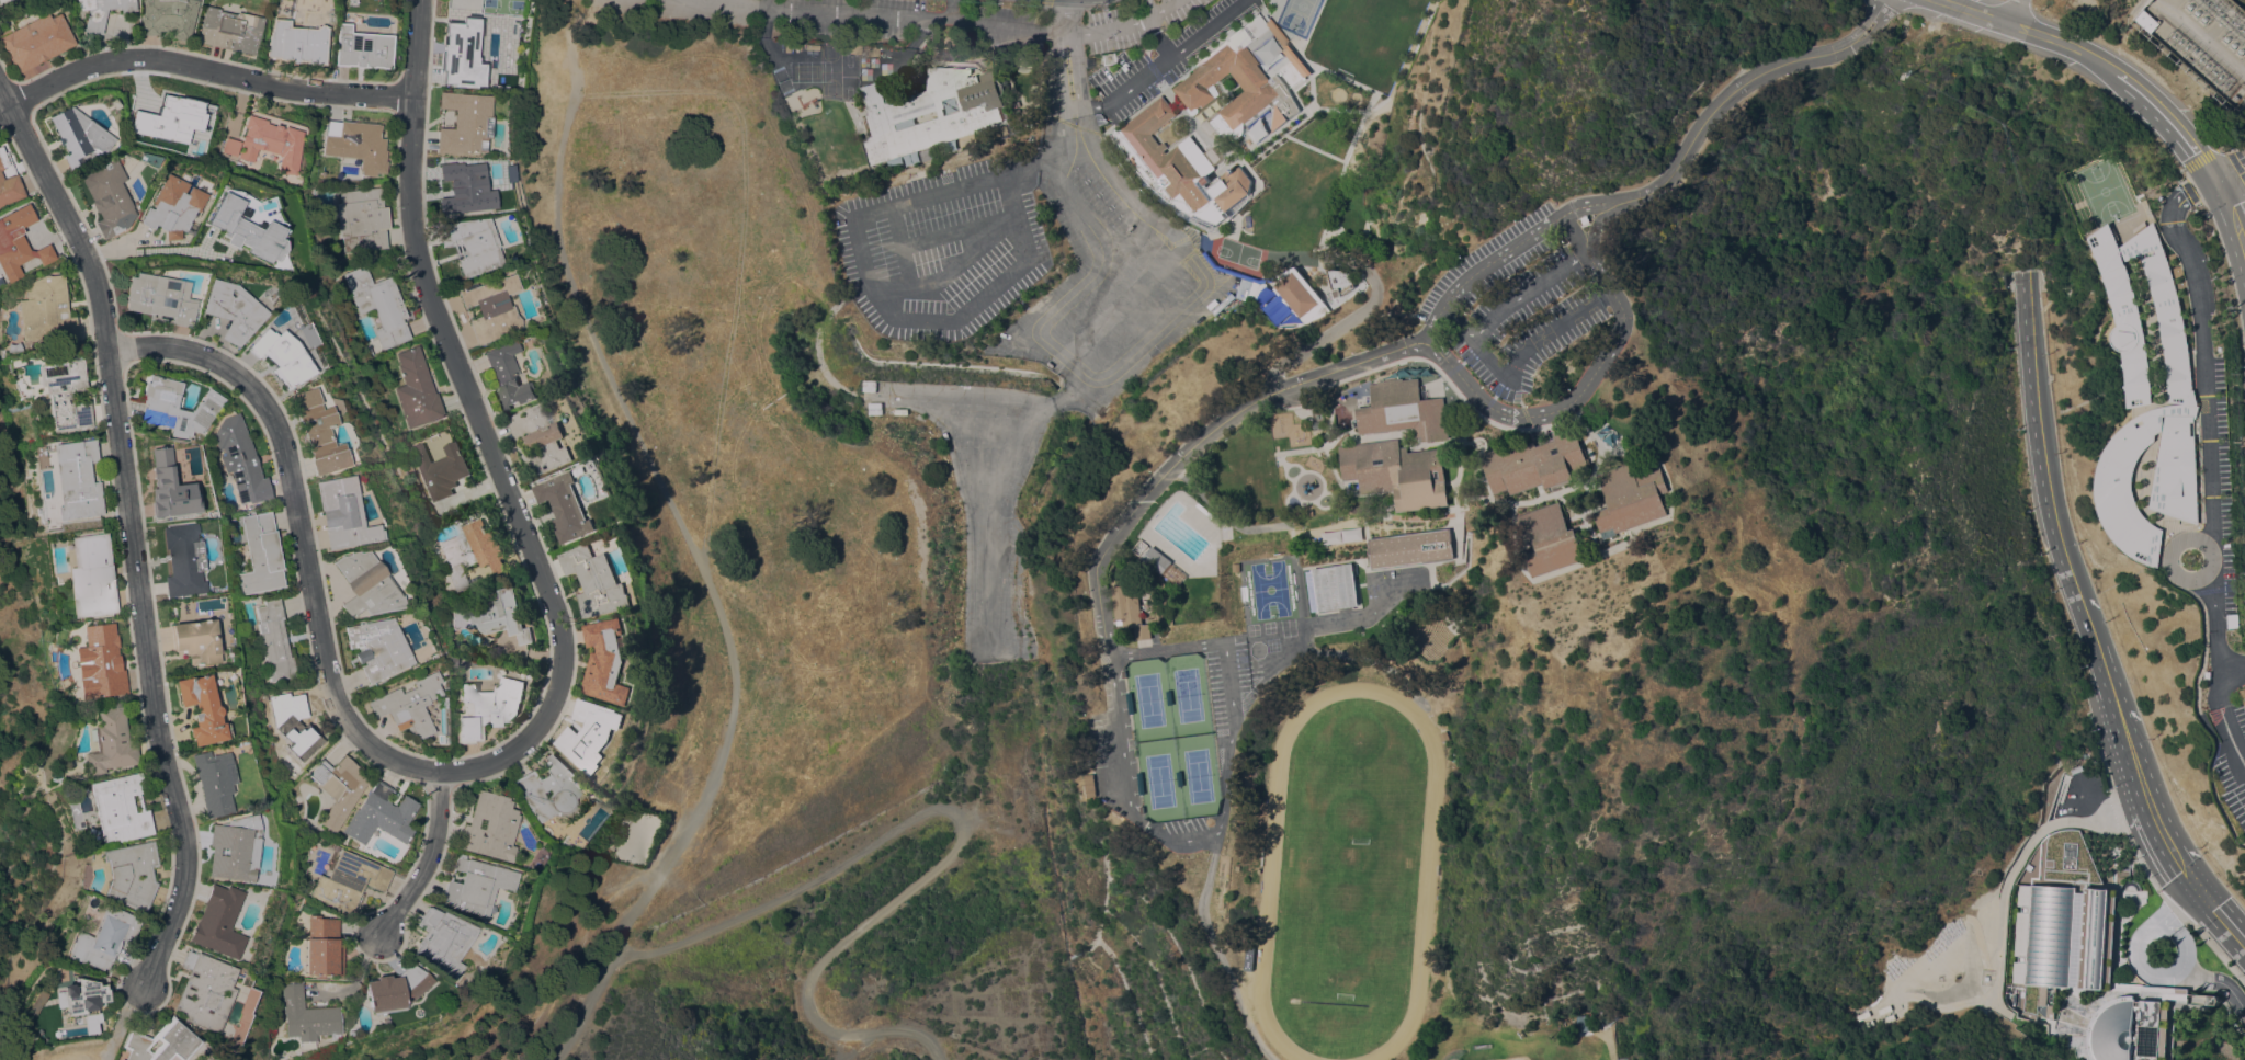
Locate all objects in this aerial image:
building: (2, 0)
road: (727, 3)
road: (1147, 8)
road: (1161, 8)
road: (946, 9)
road: (2015, 11)
building: (101, 12)
park: (1296, 13)
road: (907, 14)
building: (168, 18)
building: (2147, 20)
road: (1111, 25)
road: (2018, 27)
road: (1204, 29)
building: (229, 30)
building: (1252, 35)
road: (2200, 35)
building: (1382, 38)
building: (36, 41)
building: (296, 43)
power substation: (2200, 43)
building: (796, 46)
building: (786, 47)
building: (810, 47)
building: (362, 48)
building: (869, 50)
building: (464, 54)
building: (1263, 59)
road: (202, 69)
road: (1145, 75)
road: (1063, 80)
building: (1263, 84)
road: (1723, 101)
building: (115, 103)
building: (971, 115)
road: (2159, 115)
building: (171, 123)
building: (465, 123)
building: (79, 136)
road: (1091, 138)
building: (271, 143)
building: (356, 145)
building: (230, 146)
park: (1279, 152)
building: (2, 159)
building: (1180, 164)
road: (2227, 172)
traffic signals: (2212, 181)
building: (10, 189)
building: (467, 191)
building: (110, 197)
building: (172, 207)
road: (1075, 212)
building: (362, 219)
road: (2230, 220)
road: (1598, 221)
building: (246, 229)
road: (1579, 230)
road: (948, 235)
building: (14, 237)
building: (472, 244)
road: (898, 244)
road: (739, 246)
road: (145, 251)
road: (1508, 252)
road: (1254, 258)
road: (951, 269)
building: (1235, 270)
building: (2177, 271)
road: (870, 276)
building: (1340, 282)
road: (1528, 290)
building: (1299, 294)
building: (161, 298)
building: (378, 305)
building: (490, 308)
building: (46, 310)
building: (233, 310)
building: (1275, 310)
building: (467, 314)
road: (1435, 315)
parking lot: (1527, 316)
road: (1356, 318)
parking lot: (1020, 322)
road: (1155, 330)
building: (13, 347)
road: (1053, 350)
building: (281, 355)
road: (1516, 363)
building: (509, 376)
building: (869, 385)
building: (416, 389)
building: (2147, 392)
building: (65, 394)
road: (1059, 397)
road: (1573, 403)
building: (177, 407)
building: (874, 407)
building: (900, 410)
building: (1403, 410)
road: (2208, 418)
building: (923, 419)
road: (480, 423)
building: (318, 432)
building: (541, 438)
road: (2042, 449)
building: (240, 460)
building: (1534, 463)
building: (440, 468)
road: (975, 470)
building: (1397, 472)
building: (76, 479)
building: (170, 488)
road: (1145, 497)
building: (1631, 497)
building: (566, 506)
building: (342, 513)
road: (297, 531)
road: (131, 533)
building: (1549, 539)
road: (695, 542)
building: (1411, 547)
building: (472, 551)
building: (261, 555)
building: (183, 560)
building: (1157, 560)
building: (1235, 566)
road: (986, 571)
building: (91, 575)
building: (597, 580)
building: (366, 584)
building: (1335, 586)
park: (1269, 589)
building: (1131, 609)
building: (495, 616)
building: (274, 640)
building: (195, 641)
building: (377, 648)
building: (450, 660)
building: (606, 661)
building: (100, 662)
building: (409, 705)
building: (487, 708)
building: (202, 709)
road: (2223, 709)
building: (293, 722)
road: (1232, 727)
building: (591, 734)
building: (1441, 734)
building: (110, 742)
road: (2134, 761)
building: (53, 776)
building: (214, 782)
building: (338, 787)
building: (559, 801)
building: (118, 808)
building: (381, 816)
building: (489, 827)
building: (234, 848)
road: (426, 860)
road: (932, 867)
building: (2122, 869)
track: (1424, 870)
building: (131, 874)
park: (1347, 876)
building: (349, 881)
building: (475, 886)
traffic signals: (2199, 891)
road: (2221, 917)
building: (218, 922)
building: (104, 938)
building: (2067, 939)
building: (441, 941)
building: (322, 947)
road: (655, 953)
road: (2139, 958)
building: (1250, 961)
road: (2220, 982)
building: (395, 989)
building: (204, 991)
building: (83, 998)
building: (2213, 999)
building: (35, 1002)
building: (306, 1015)
building: (90, 1018)
building: (2131, 1028)
building: (160, 1042)
park: (1542, 1051)
building: (121, 1059)

